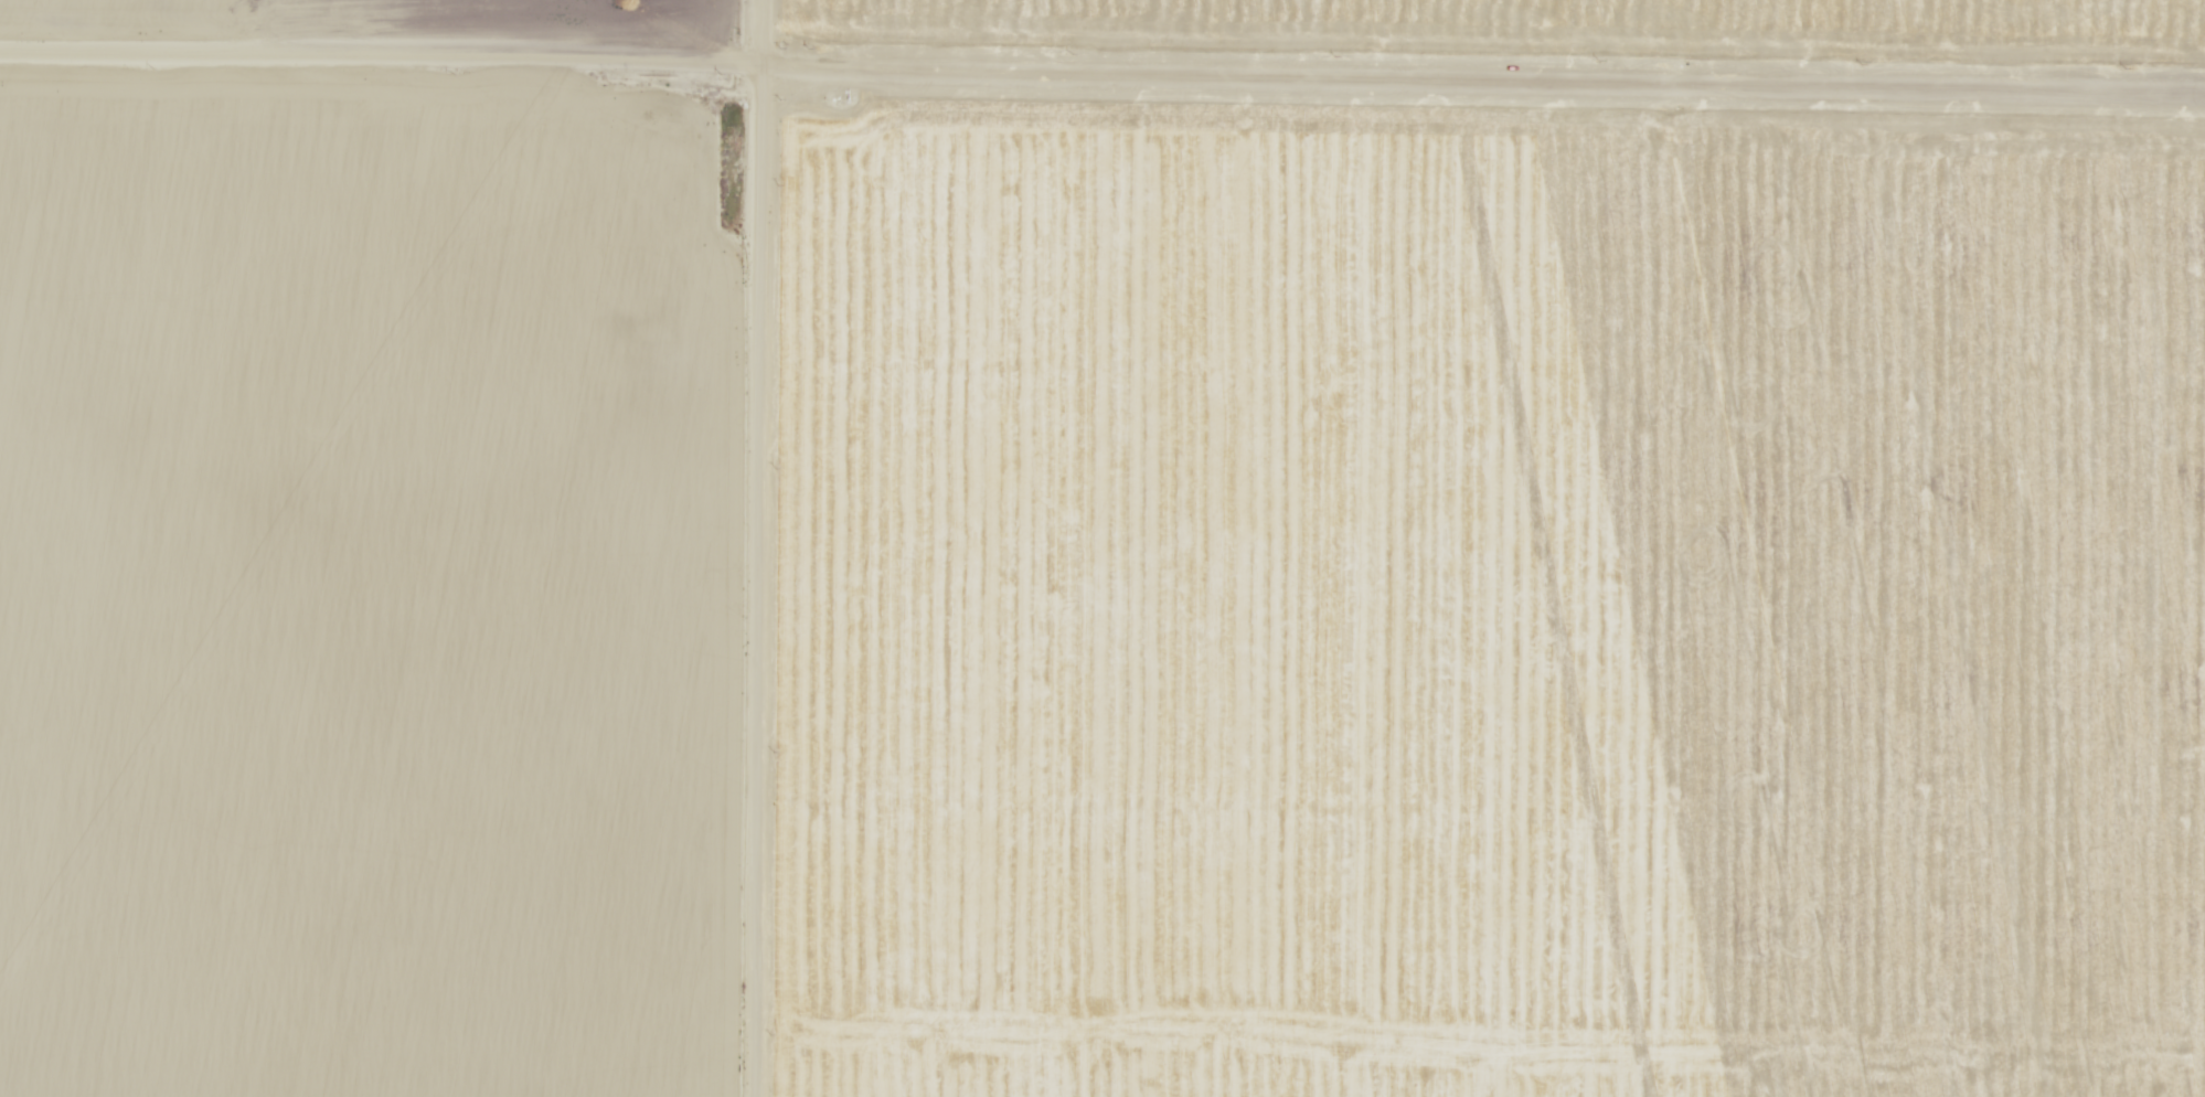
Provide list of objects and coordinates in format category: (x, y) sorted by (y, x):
crop: (396, 21)
road: (1489, 29)
road: (775, 548)
crop: (375, 568)

